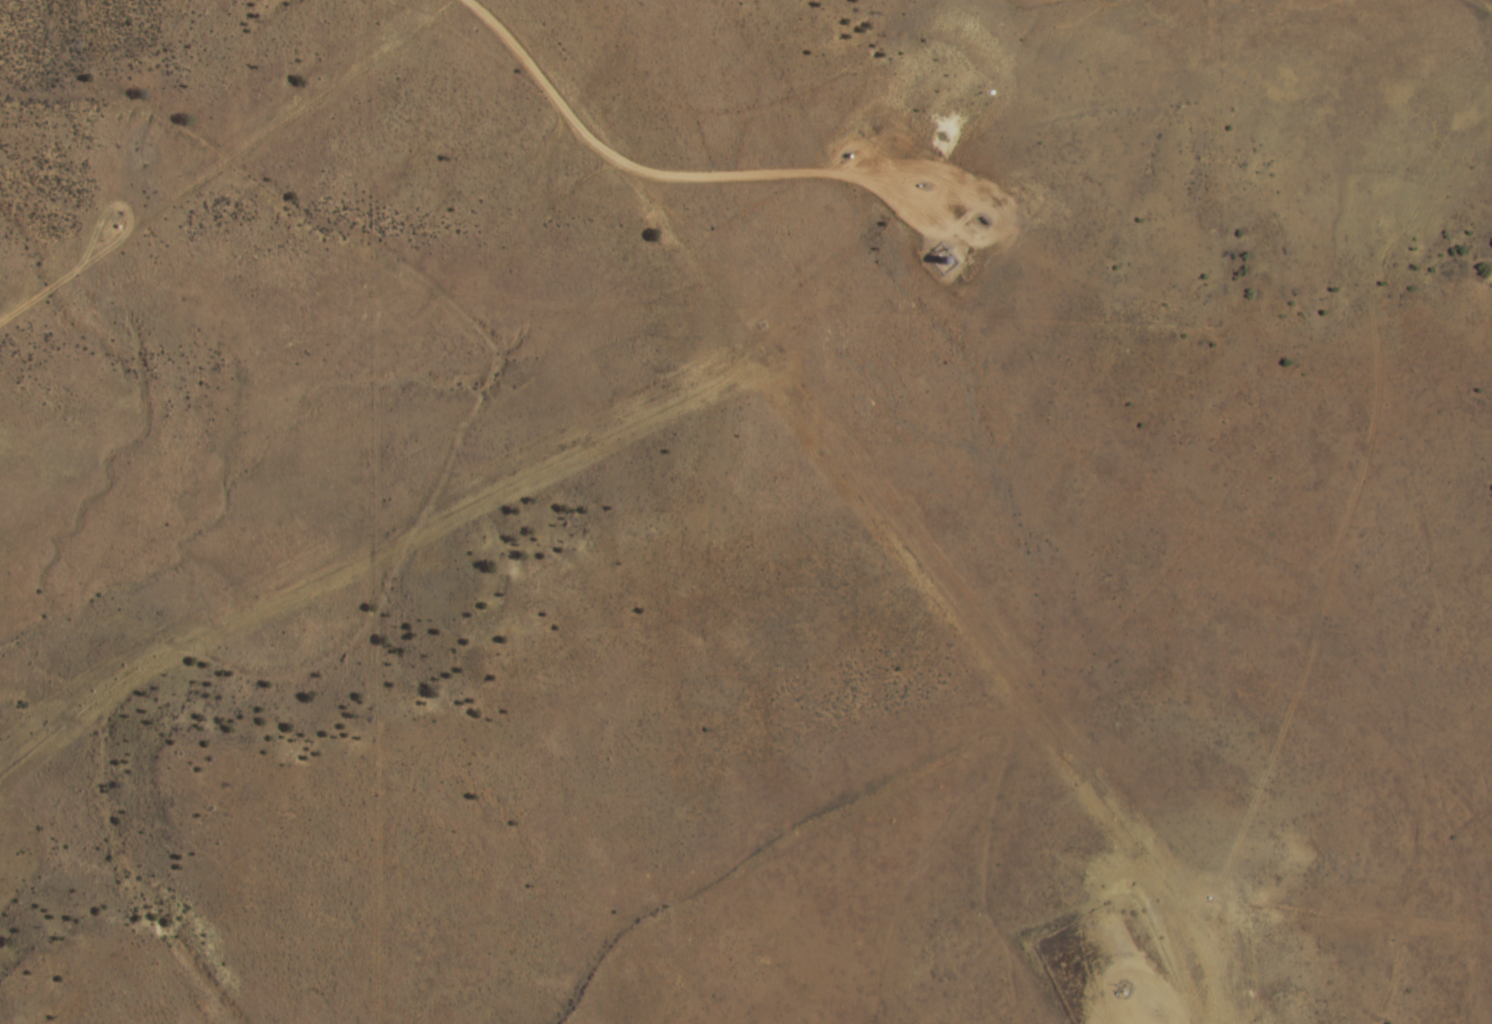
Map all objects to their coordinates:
road: (1352, 556)

